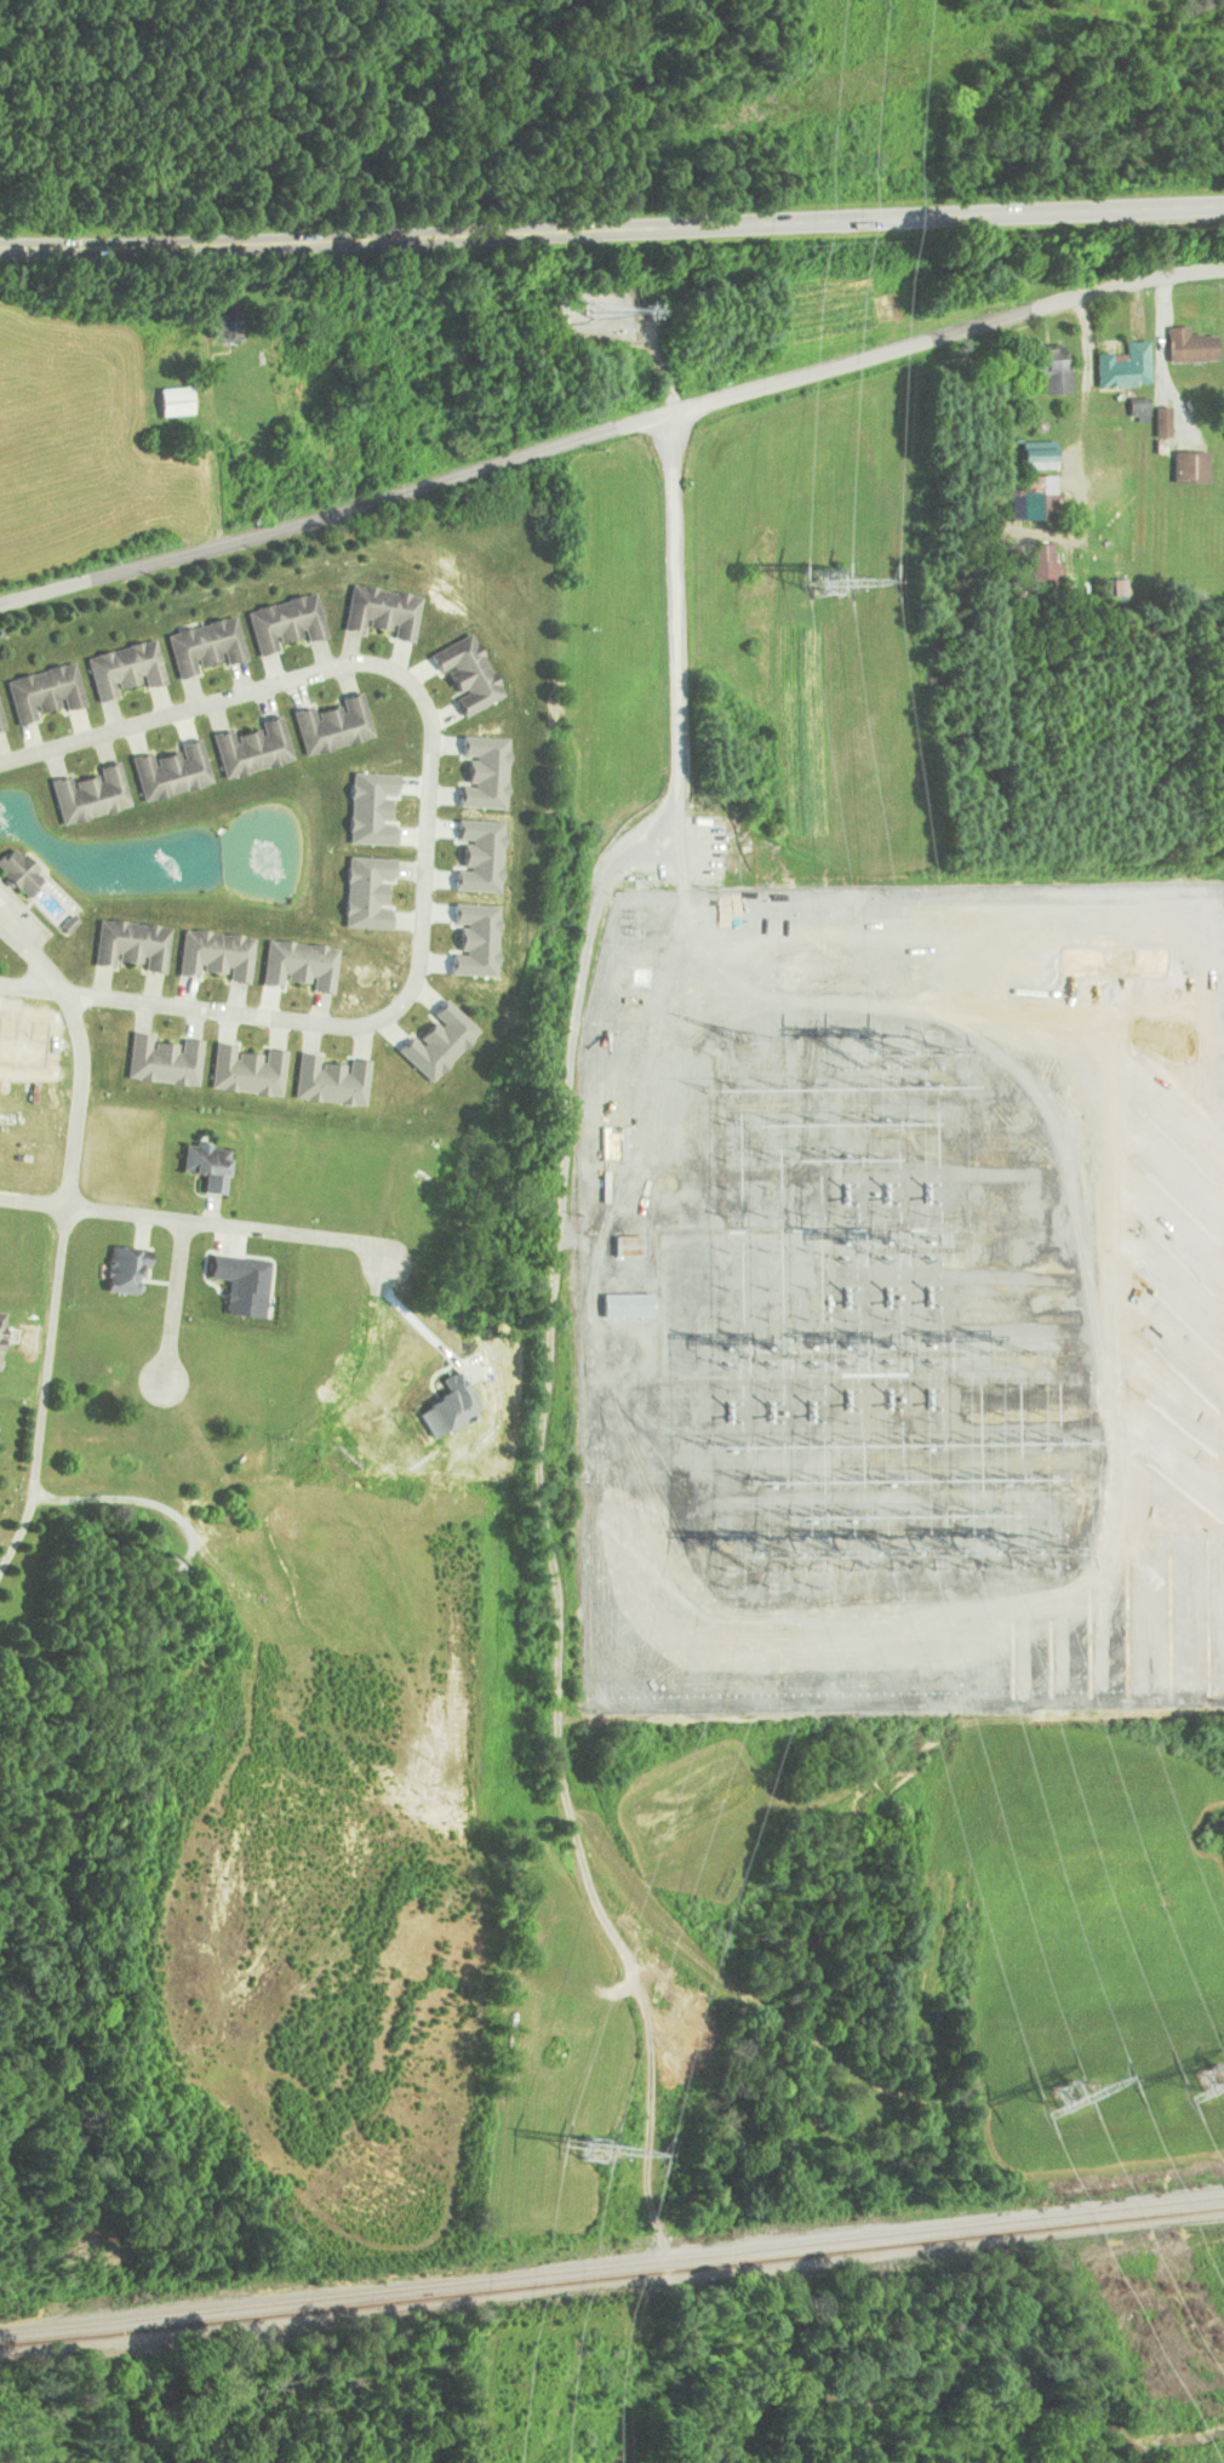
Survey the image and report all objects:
road: (612, 230)
building: (559, 316)
building: (227, 321)
building: (1188, 347)
building: (1122, 367)
building: (1051, 371)
building: (173, 401)
building: (1137, 411)
building: (1160, 422)
road: (611, 433)
building: (1188, 468)
building: (1033, 499)
building: (1014, 564)
building: (1043, 567)
power tower: (840, 582)
building: (381, 613)
building: (284, 623)
building: (204, 647)
building: (122, 670)
building: (465, 674)
building: (42, 693)
building: (331, 725)
building: (0, 727)
building: (250, 748)
building: (170, 771)
building: (88, 794)
road: (423, 833)
building: (18, 872)
building: (130, 945)
road: (33, 956)
power tower: (869, 1056)
building: (162, 1059)
building: (205, 1165)
road: (191, 1221)
road: (62, 1244)
building: (627, 1245)
building: (121, 1269)
power substation: (900, 1295)
road: (173, 1303)
building: (624, 1305)
power tower: (885, 1564)
power tower: (1006, 1566)
power tower: (765, 1568)
power tower: (1211, 2078)
power tower: (1062, 2098)
power tower: (590, 2147)
railway: (612, 2264)
railway: (612, 2275)
river: (951, 2391)

